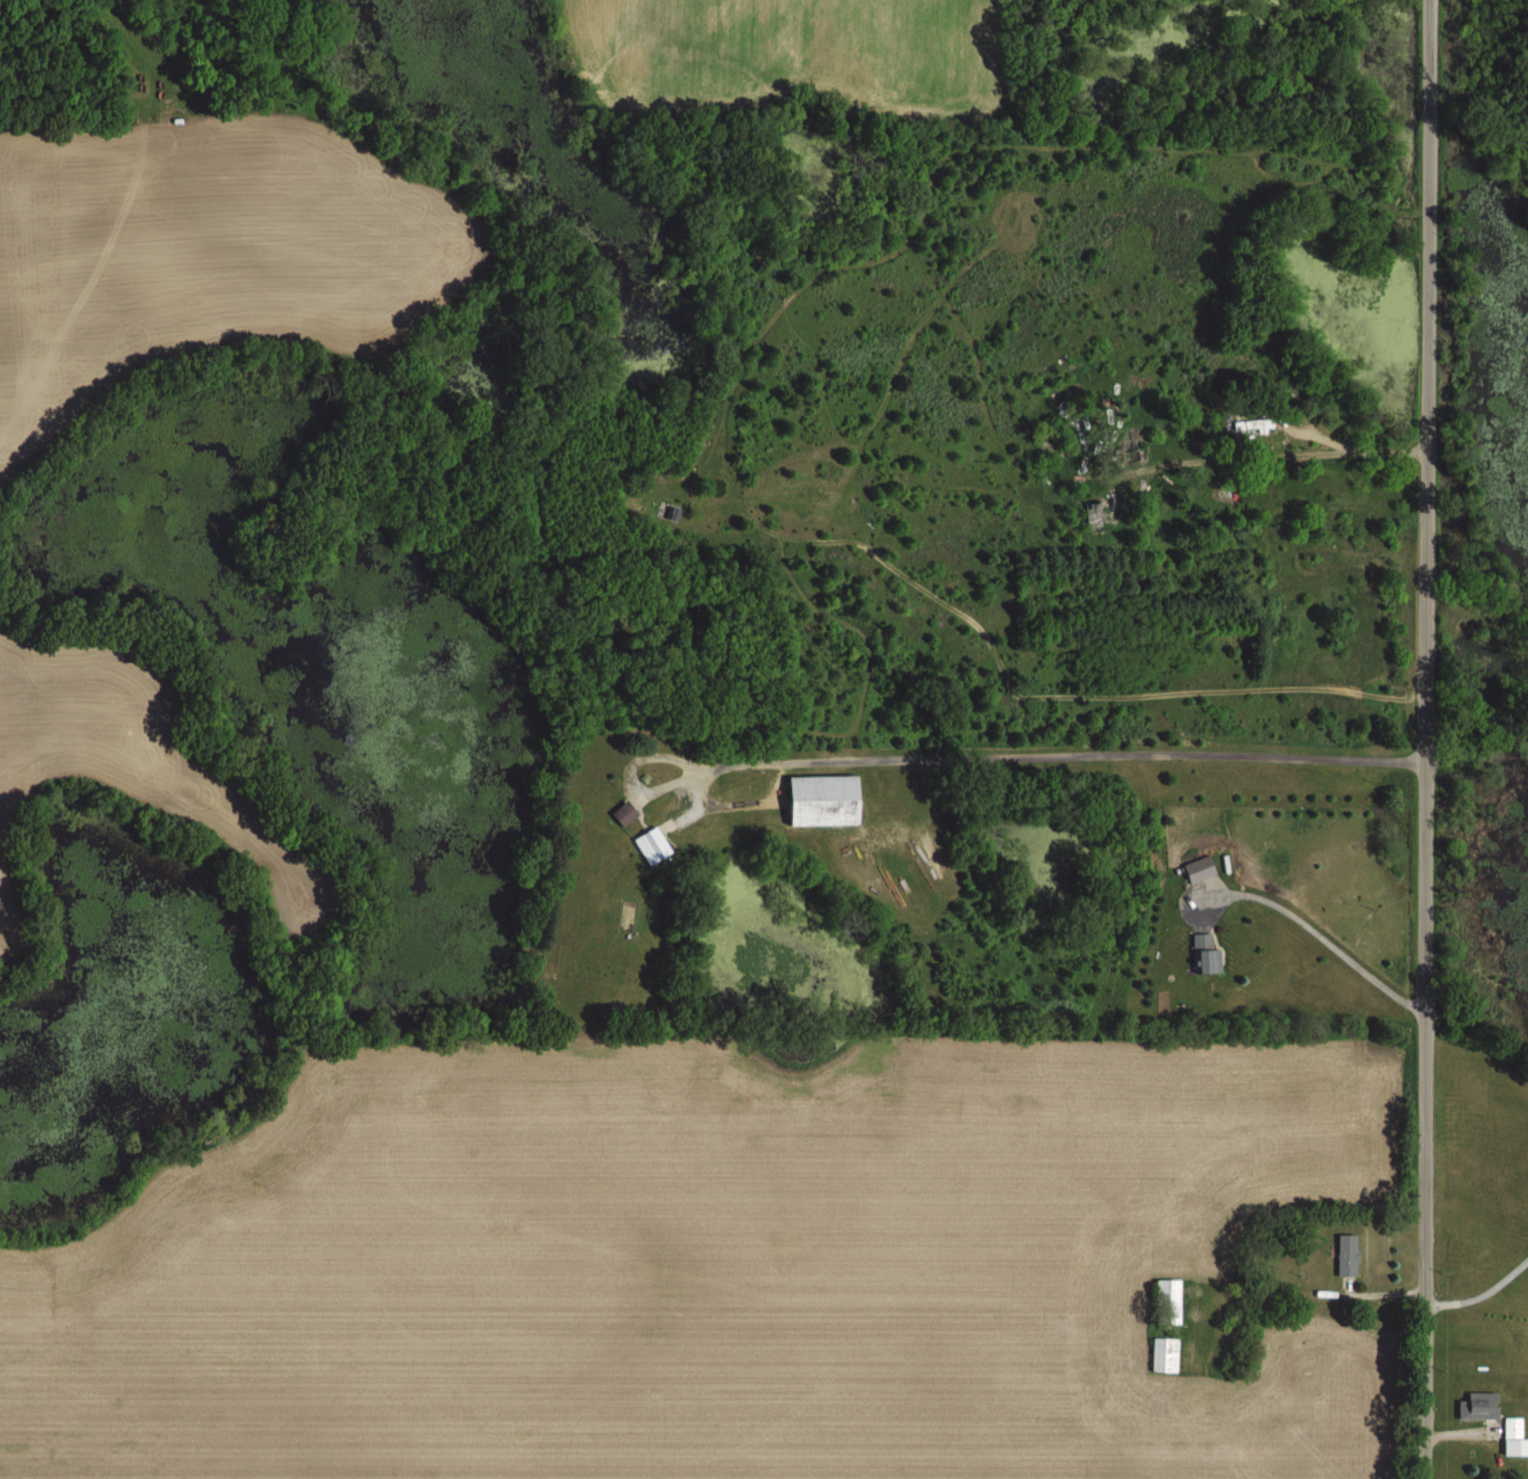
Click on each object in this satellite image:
building: (1254, 426)
building: (1134, 441)
building: (1099, 522)
road: (1427, 739)
building: (827, 801)
building: (626, 814)
building: (655, 846)
building: (1201, 870)
building: (1206, 956)
building: (1348, 1255)
building: (1170, 1302)
building: (1166, 1356)
building: (1480, 1406)
building: (1515, 1438)

